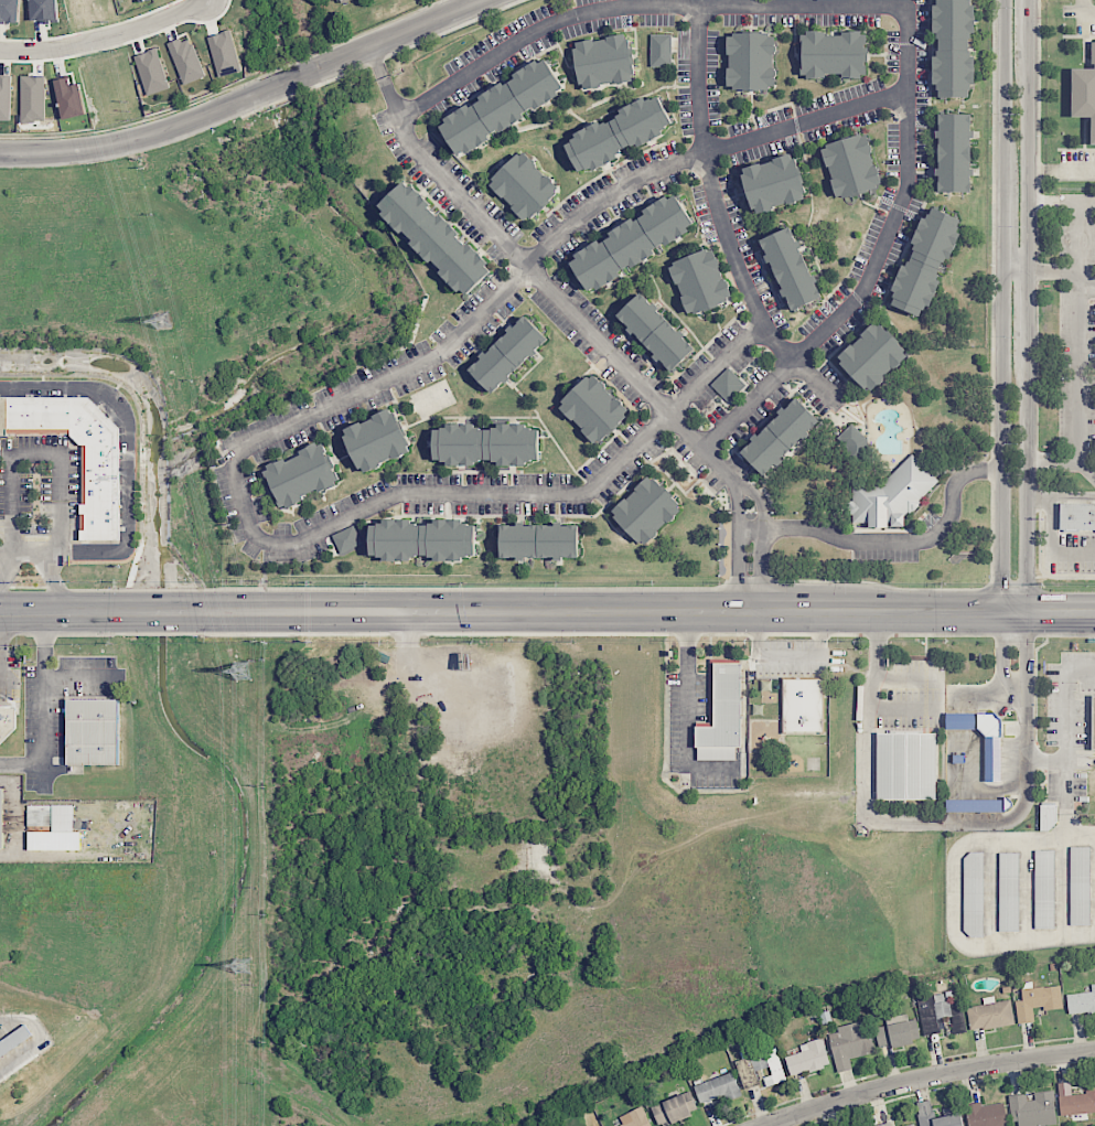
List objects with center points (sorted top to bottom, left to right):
building: (340, 0)
road: (454, 4)
road: (636, 6)
street lamp: (1012, 7)
road: (1085, 9)
building: (43, 10)
building: (9, 11)
road: (1028, 29)
road: (106, 35)
building: (954, 49)
building: (661, 50)
road: (354, 52)
building: (224, 53)
building: (834, 54)
building: (186, 60)
building: (604, 61)
building: (752, 61)
building: (151, 72)
road: (1006, 83)
building: (1084, 92)
building: (4, 98)
building: (32, 98)
building: (69, 98)
building: (503, 106)
street lamp: (1012, 114)
building: (618, 132)
road: (116, 143)
building: (954, 152)
road: (1027, 164)
building: (851, 167)
road: (1060, 171)
building: (773, 183)
building: (525, 185)
road: (1061, 201)
road: (1006, 218)
road: (720, 219)
street lamp: (1019, 226)
building: (436, 237)
road: (555, 243)
building: (632, 243)
road: (878, 257)
building: (925, 260)
building: (791, 268)
road: (535, 272)
road: (1016, 272)
road: (1062, 272)
building: (700, 280)
road: (1027, 311)
power tower: (164, 320)
building: (656, 331)
street lamp: (1011, 336)
road: (1076, 344)
building: (508, 353)
building: (872, 356)
building: (729, 384)
building: (593, 408)
building: (780, 436)
building: (377, 440)
building: (855, 440)
road: (1005, 442)
building: (486, 443)
street lamp: (1013, 446)
road: (128, 454)
road: (1052, 461)
road: (61, 473)
building: (301, 474)
road: (1026, 481)
road: (749, 490)
building: (100, 491)
road: (493, 491)
road: (736, 492)
building: (891, 495)
road: (1060, 498)
building: (646, 510)
building: (1076, 516)
building: (422, 538)
building: (539, 539)
road: (890, 539)
building: (346, 540)
road: (1051, 547)
road: (21, 549)
road: (738, 558)
road: (762, 558)
road: (4, 565)
street lamp: (1013, 575)
road: (55, 580)
road: (513, 611)
road: (1060, 612)
road: (3, 625)
road: (1026, 648)
road: (1002, 651)
road: (795, 655)
power tower: (244, 669)
road: (1067, 704)
building: (801, 705)
road: (44, 706)
road: (690, 708)
building: (721, 714)
building: (7, 721)
building: (1093, 722)
building: (93, 731)
building: (992, 755)
road: (1046, 760)
building: (906, 765)
road: (1066, 798)
building: (977, 805)
building: (1049, 816)
building: (50, 817)
building: (1, 818)
road: (908, 821)
building: (1080, 886)
building: (1044, 889)
building: (1009, 891)
building: (974, 893)
road: (957, 894)
power tower: (244, 966)
building: (1037, 1001)
building: (1082, 1001)
building: (990, 1015)
building: (897, 1033)
road: (41, 1037)
building: (14, 1040)
building: (849, 1044)
building: (808, 1058)
building: (761, 1068)
road: (928, 1076)
building: (717, 1089)
building: (1075, 1100)
building: (674, 1108)
building: (1033, 1109)
building: (952, 1113)
building: (986, 1114)
building: (635, 1118)
building: (885, 1124)
building: (911, 1125)

